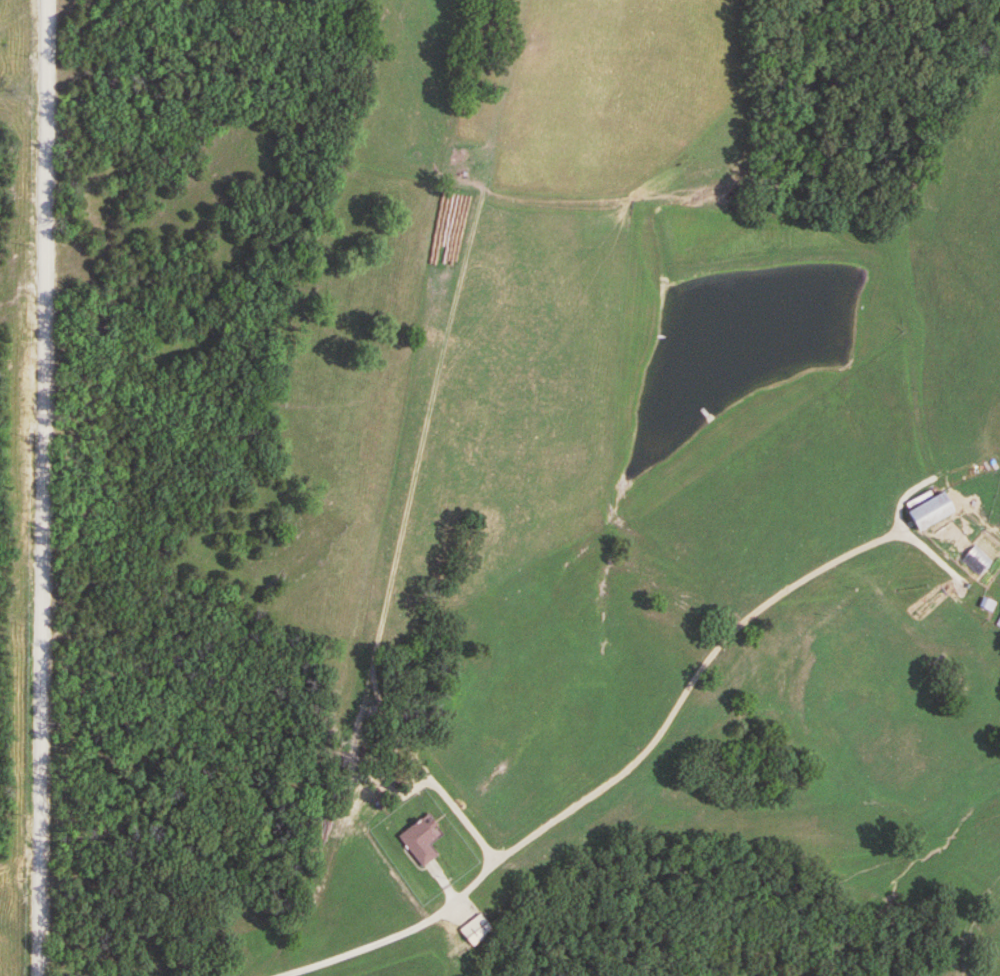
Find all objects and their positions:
road: (43, 488)
building: (929, 512)
building: (999, 624)
road: (606, 781)
building: (419, 842)
building: (476, 931)

